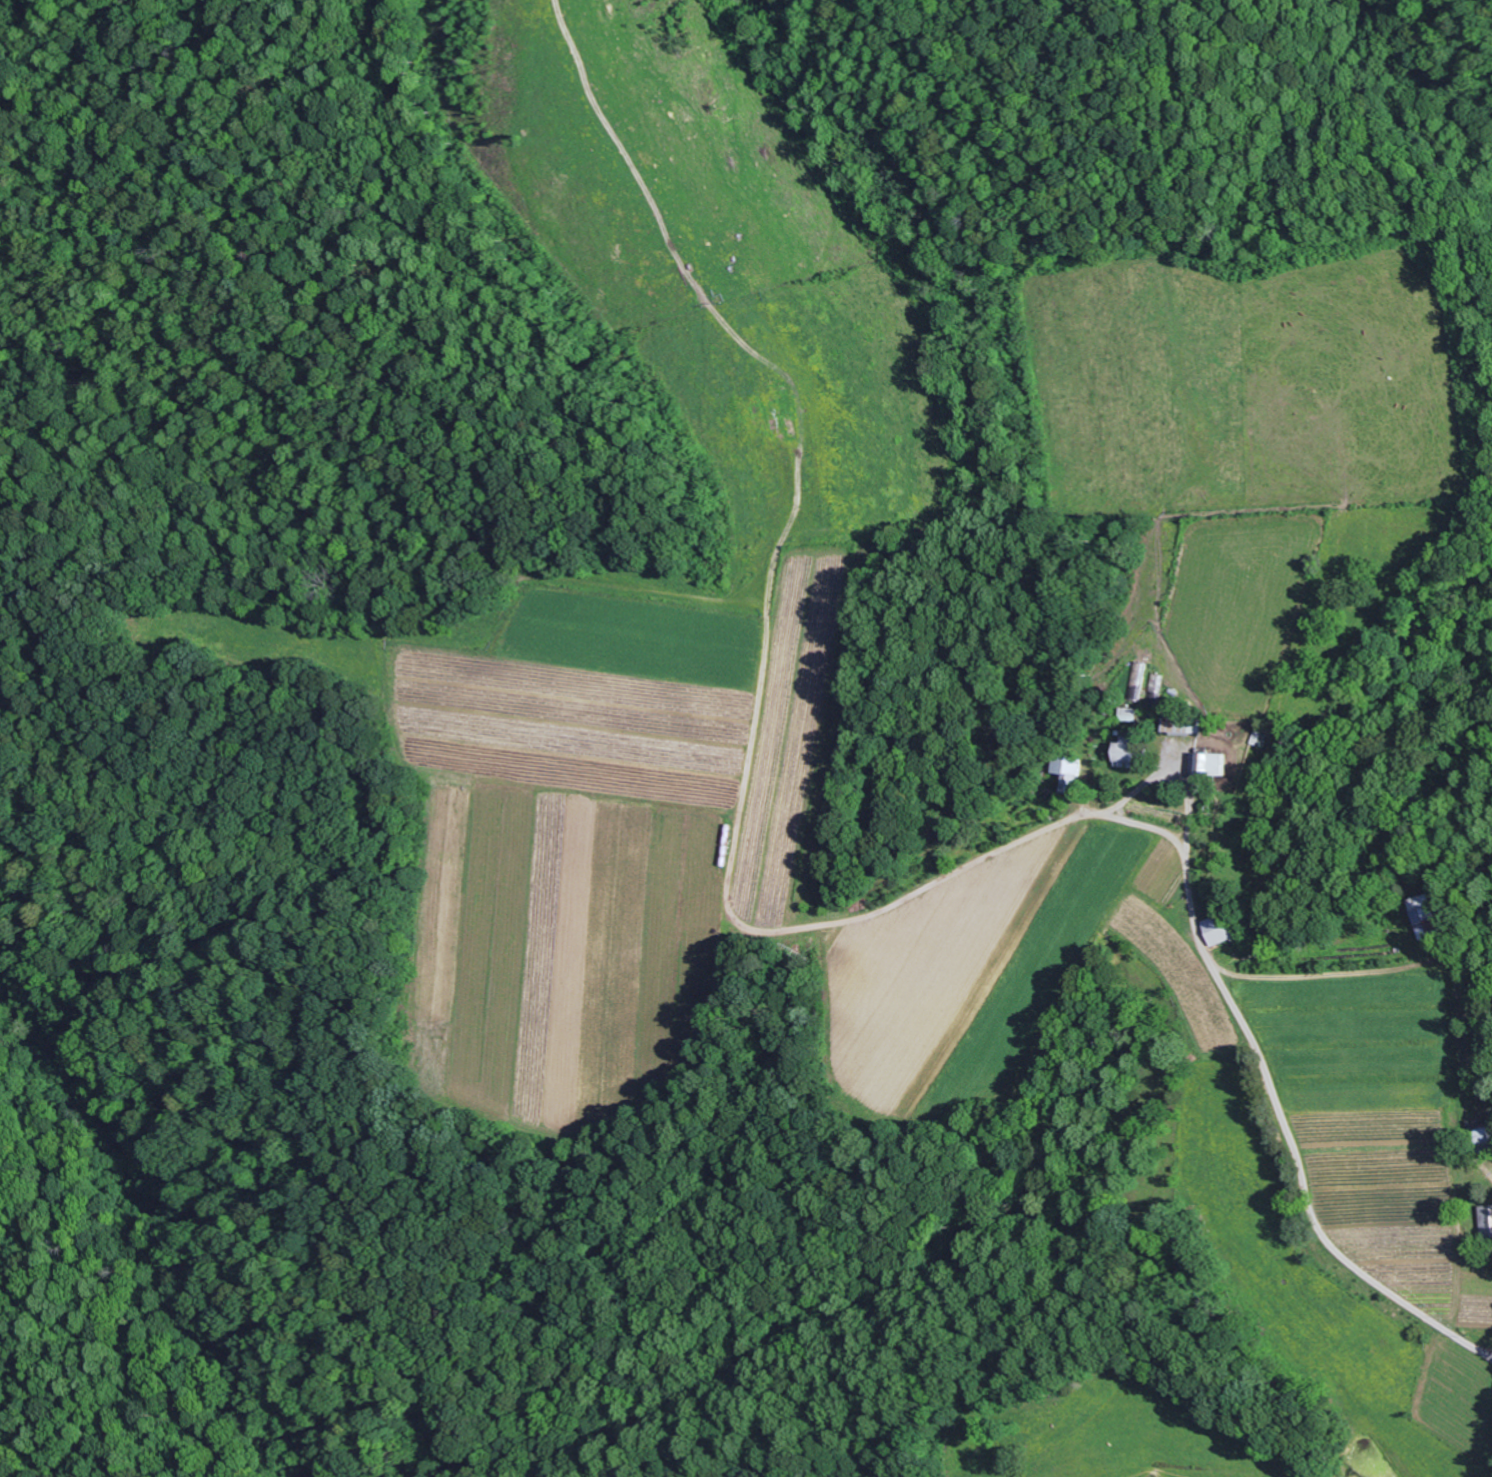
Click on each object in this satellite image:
building: (1129, 751)
building: (1428, 917)
building: (1218, 929)
building: (1486, 1221)
road: (1426, 1320)

